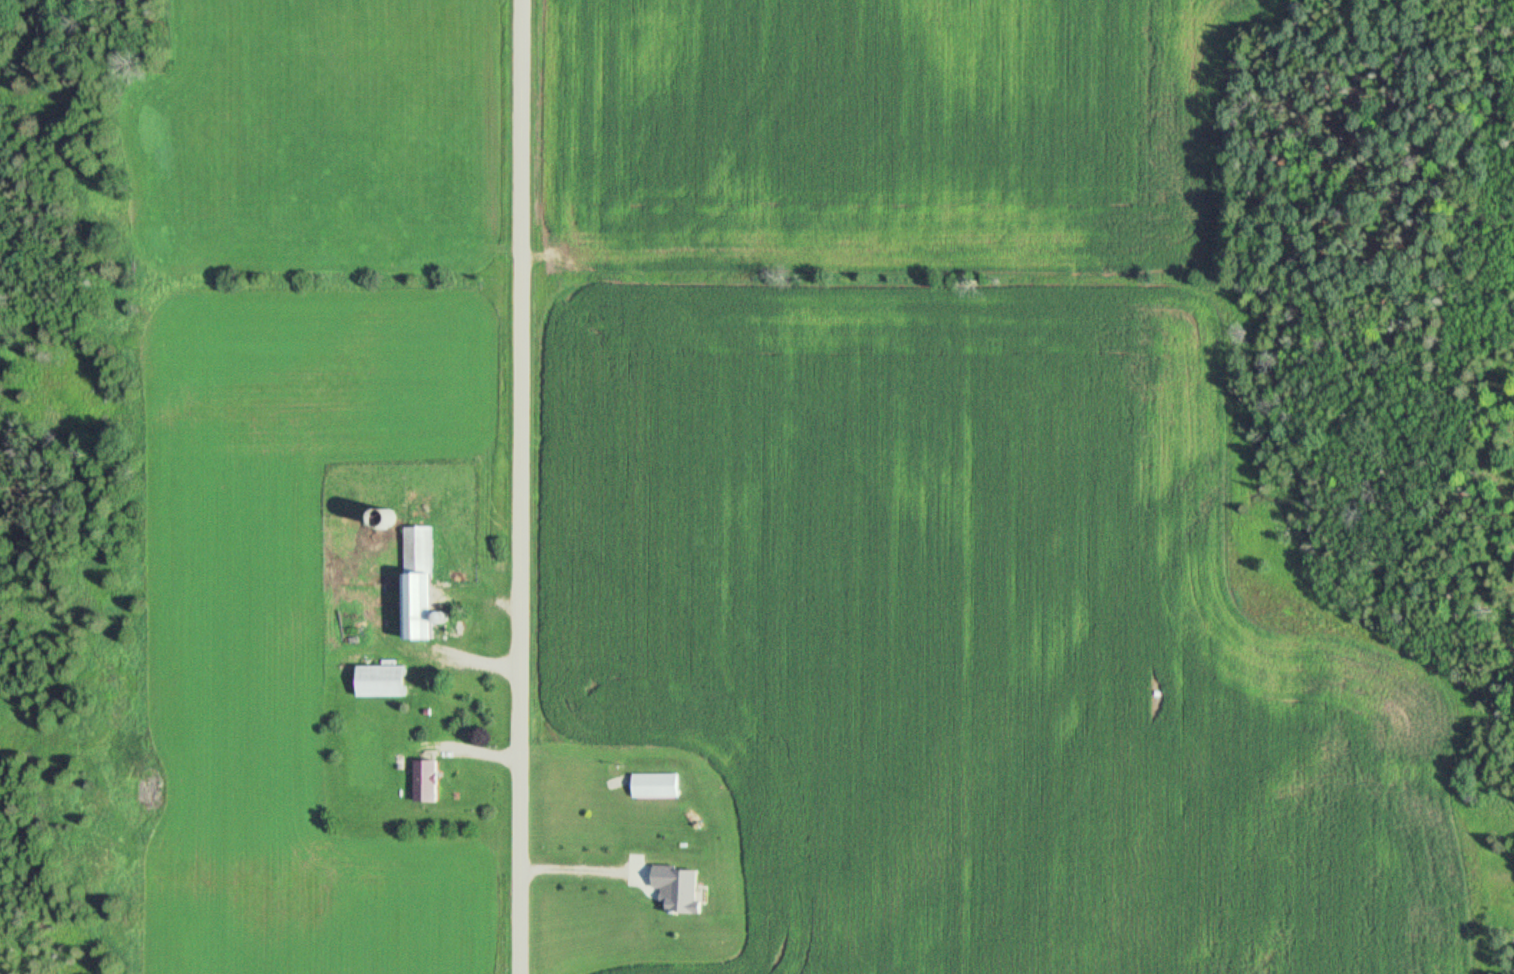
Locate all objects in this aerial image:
road: (526, 487)
building: (419, 583)
building: (383, 682)
building: (425, 782)
building: (656, 786)
building: (677, 888)

